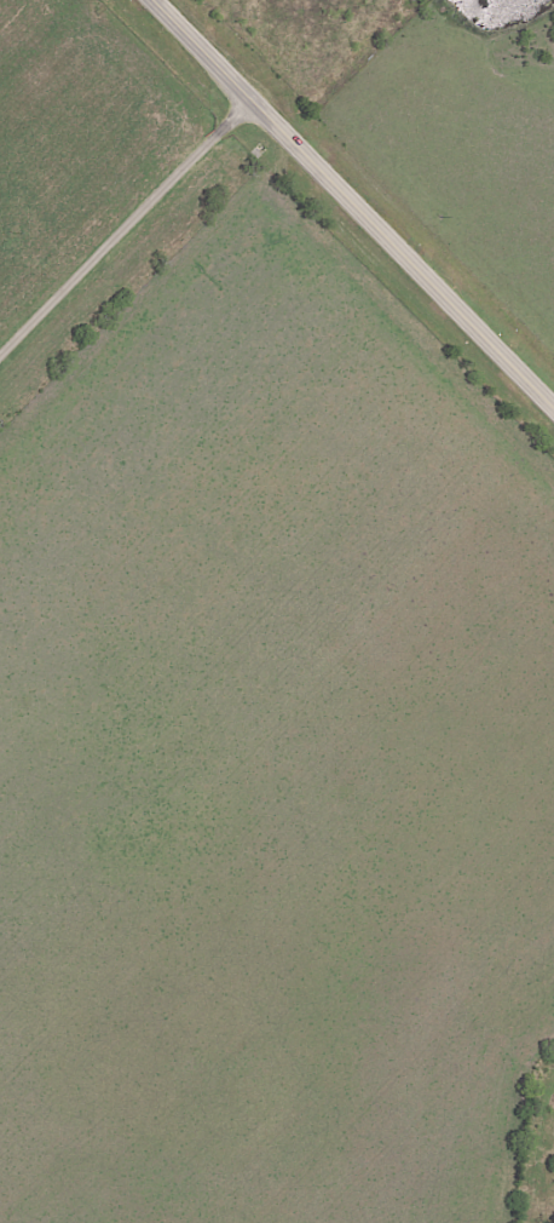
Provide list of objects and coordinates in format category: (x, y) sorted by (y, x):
road: (352, 203)
road: (126, 230)

